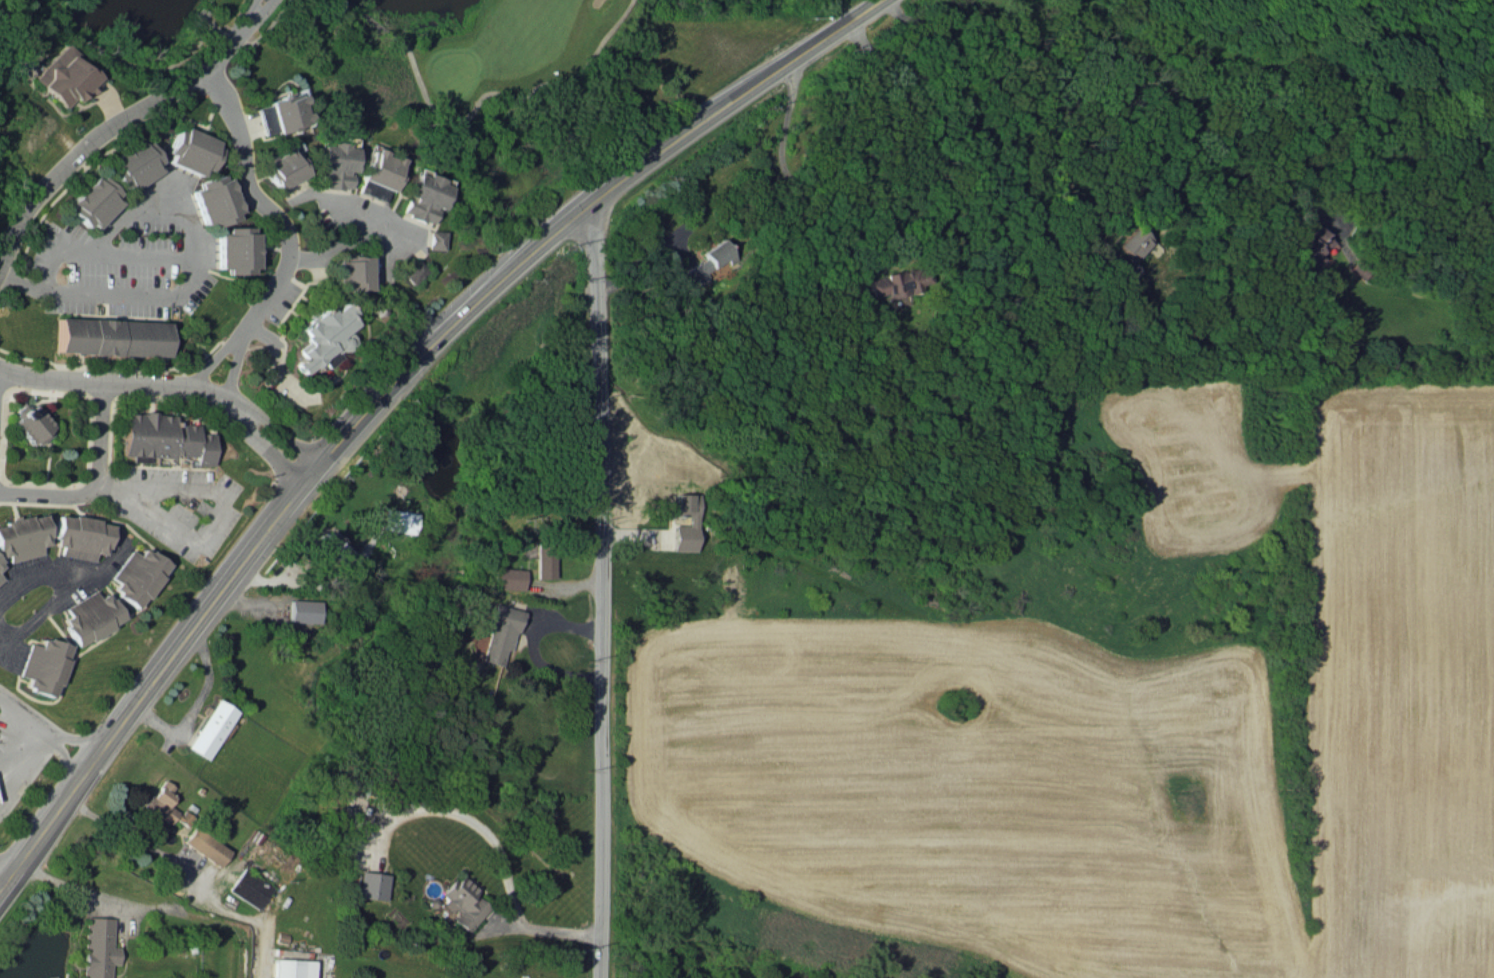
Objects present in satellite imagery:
road: (266, 20)
road: (239, 40)
road: (118, 58)
building: (67, 76)
road: (1119, 84)
road: (478, 98)
building: (287, 111)
building: (264, 118)
road: (119, 120)
road: (982, 121)
road: (672, 139)
building: (192, 149)
building: (136, 165)
building: (336, 165)
building: (283, 167)
building: (379, 174)
road: (796, 185)
building: (424, 197)
road: (258, 198)
building: (216, 199)
building: (95, 201)
road: (371, 220)
road: (194, 223)
building: (435, 239)
road: (332, 248)
building: (236, 249)
building: (1131, 252)
building: (710, 260)
building: (412, 270)
building: (353, 271)
road: (19, 279)
building: (898, 281)
building: (323, 335)
building: (110, 336)
road: (217, 353)
road: (235, 361)
road: (169, 383)
building: (30, 423)
building: (164, 437)
road: (93, 480)
road: (117, 485)
road: (211, 515)
building: (690, 519)
building: (401, 520)
building: (80, 536)
building: (22, 537)
building: (335, 544)
building: (542, 561)
building: (0, 564)
building: (138, 575)
road: (61, 576)
building: (0, 578)
building: (507, 578)
road: (226, 580)
road: (595, 584)
building: (303, 610)
road: (38, 615)
building: (90, 616)
building: (500, 632)
building: (478, 643)
building: (44, 665)
road: (196, 704)
building: (211, 728)
road: (45, 729)
road: (21, 746)
building: (160, 801)
building: (181, 817)
building: (205, 845)
road: (187, 869)
building: (369, 884)
road: (65, 886)
building: (248, 888)
building: (462, 903)
road: (540, 928)
building: (97, 947)
building: (289, 968)

